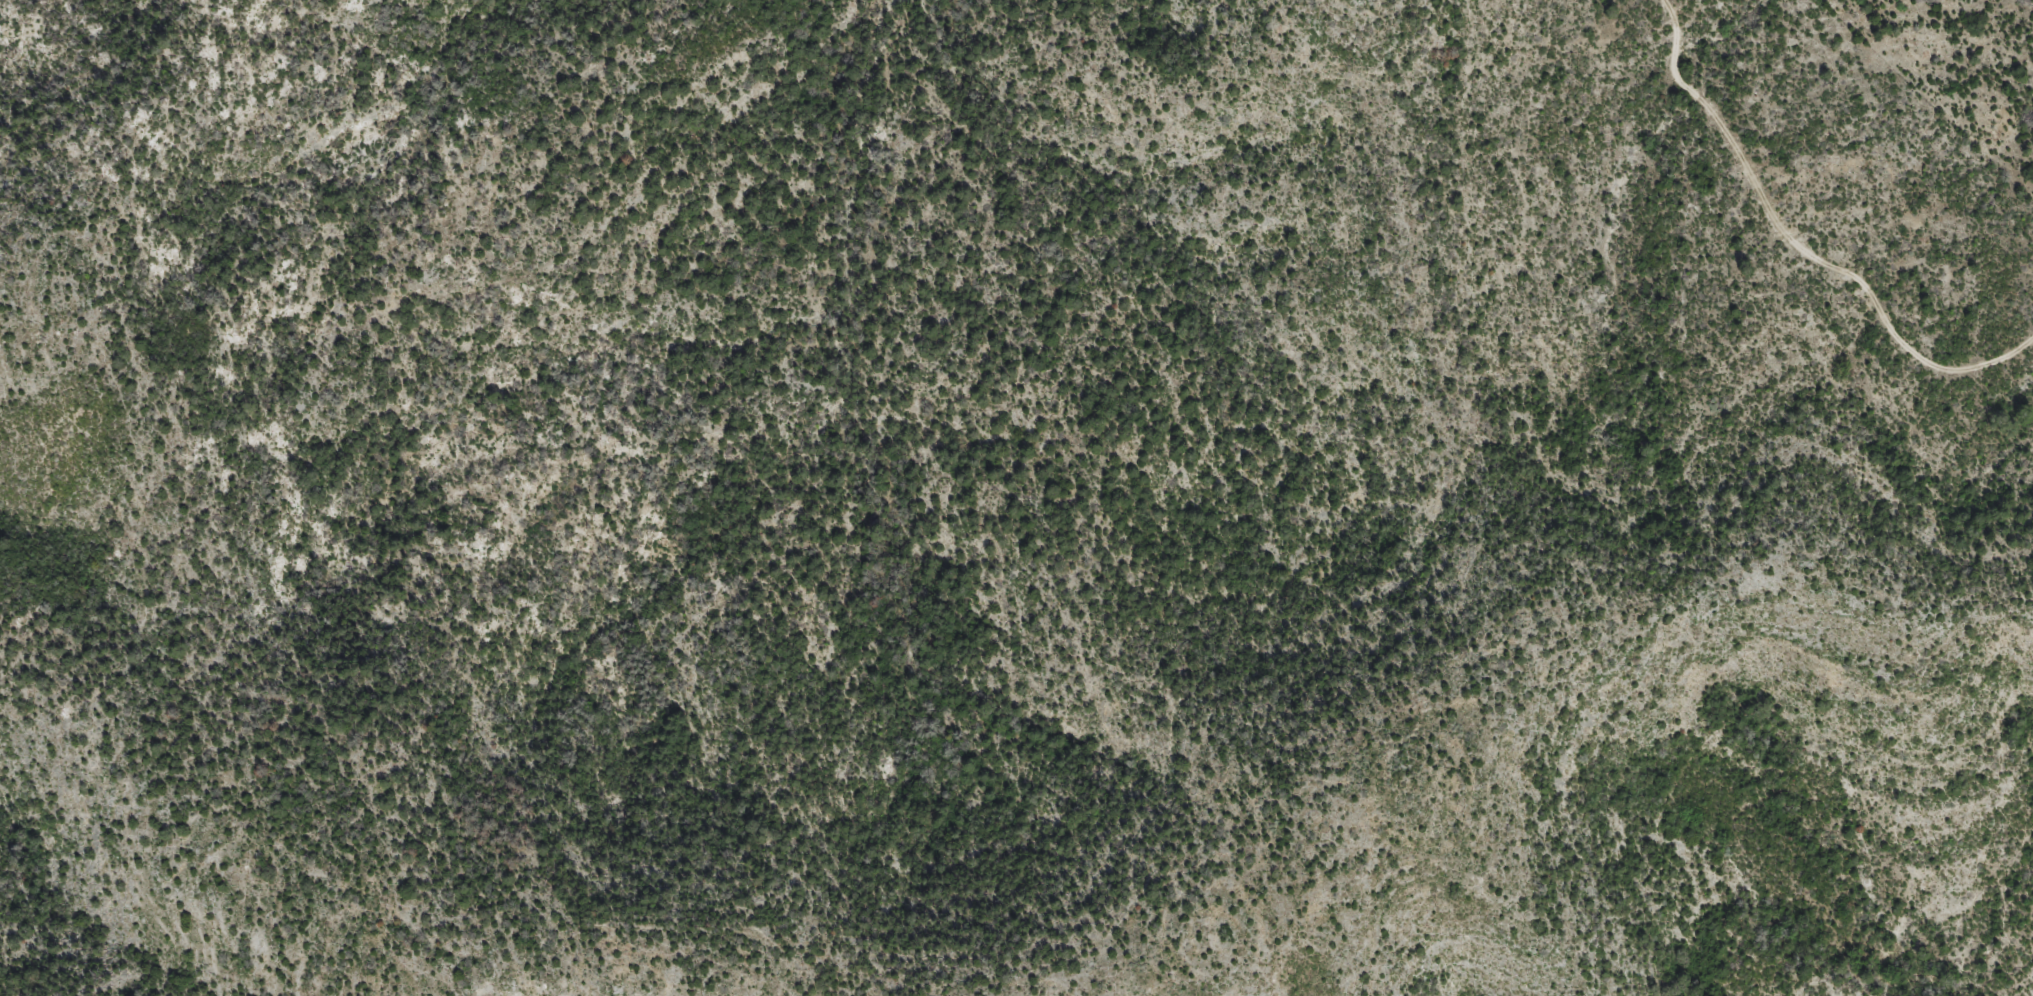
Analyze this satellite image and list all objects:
road: (1797, 253)

